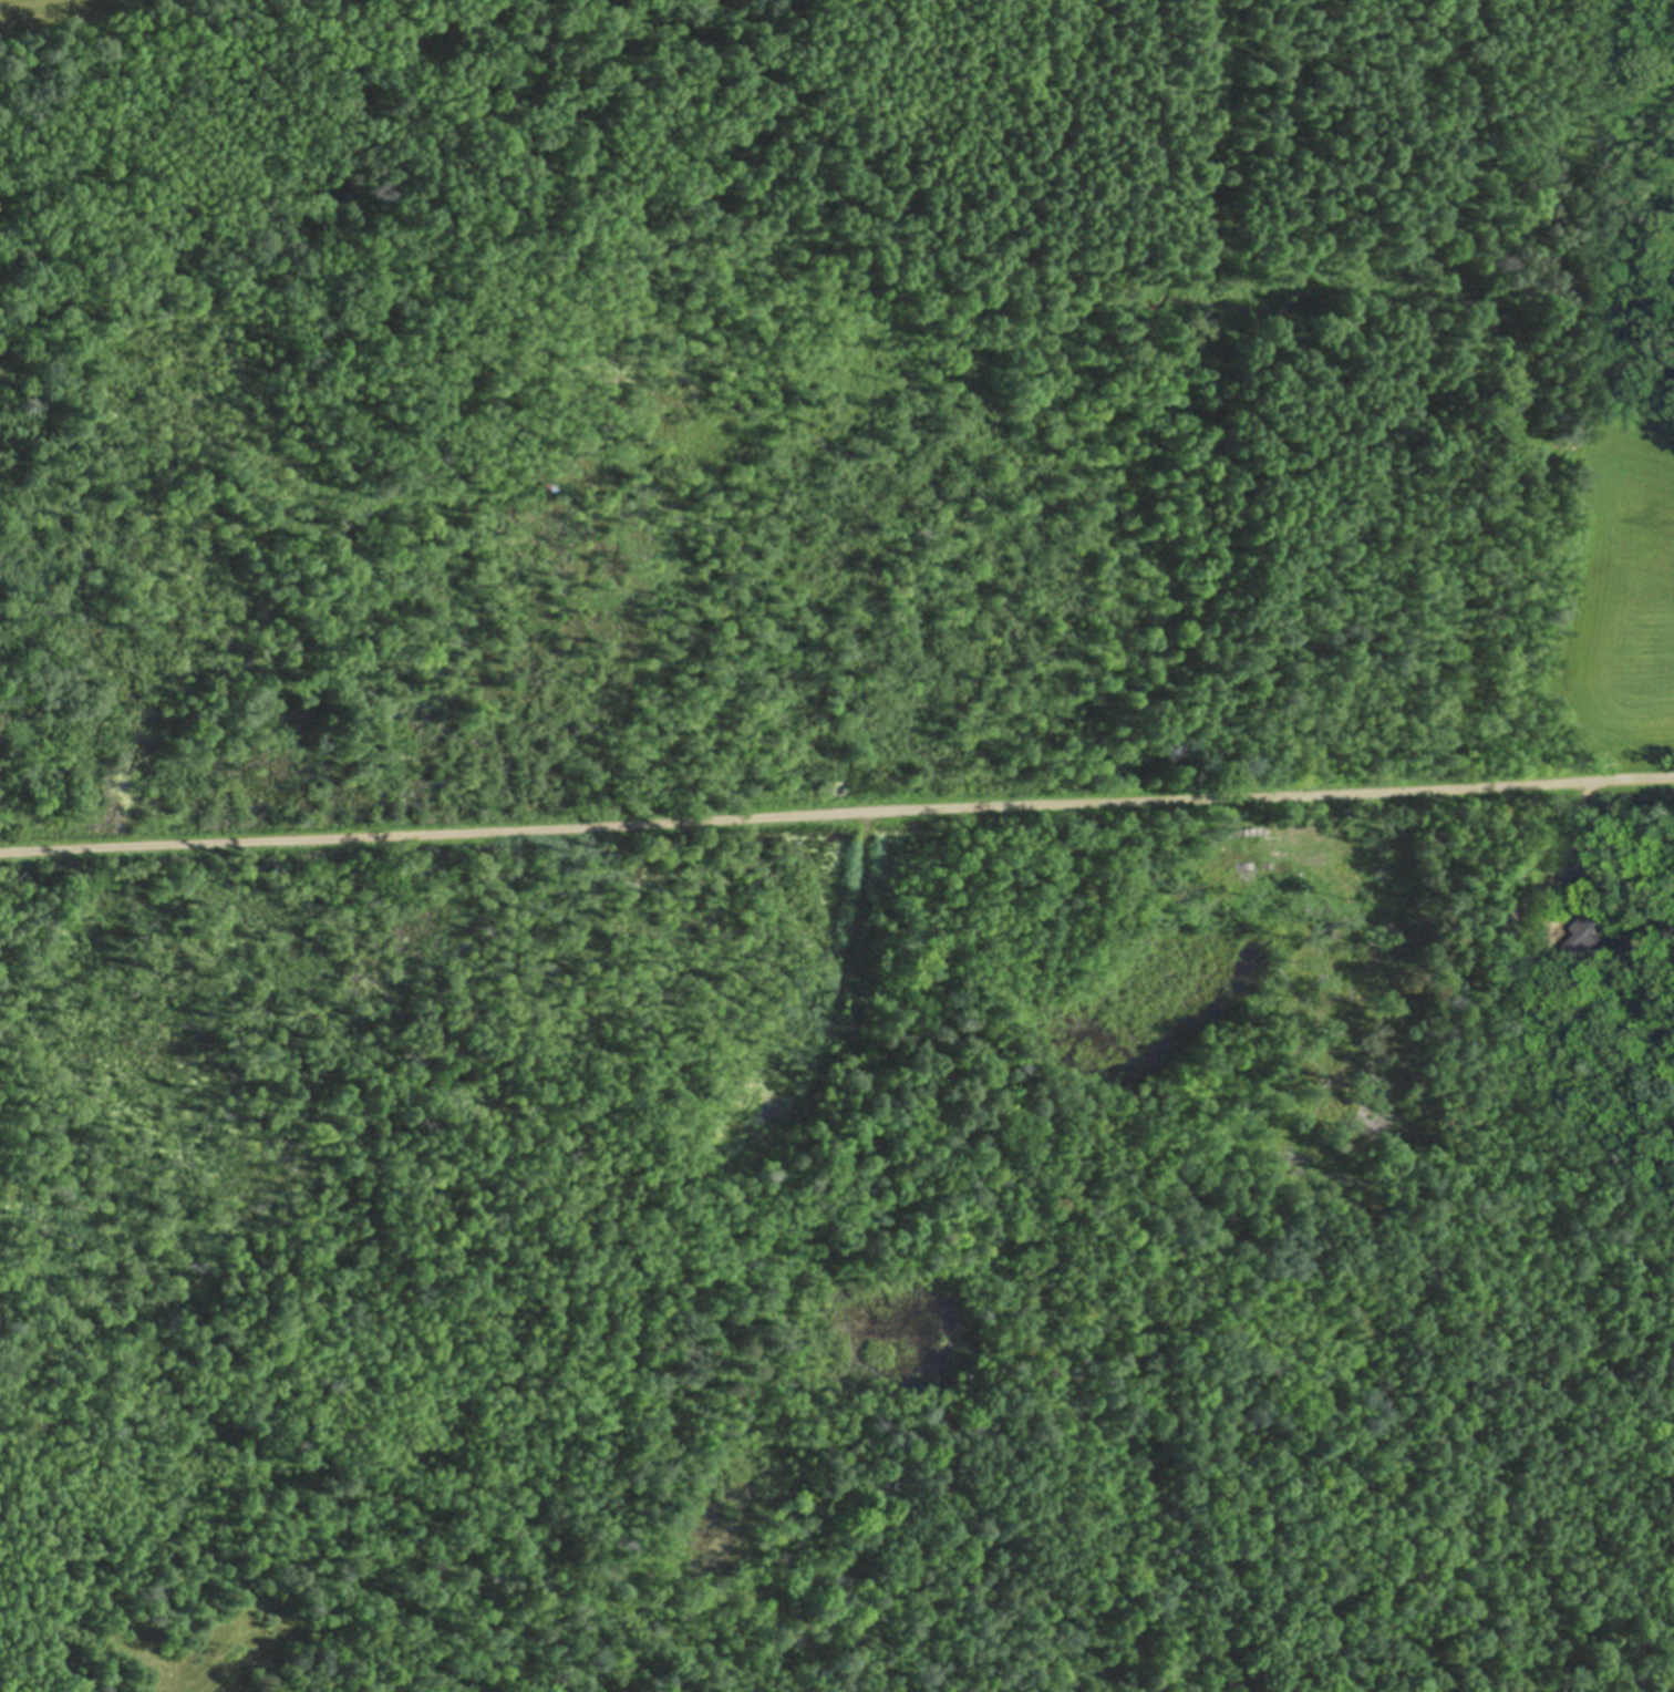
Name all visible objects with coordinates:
road: (836, 812)
building: (1593, 938)
building: (1501, 957)

